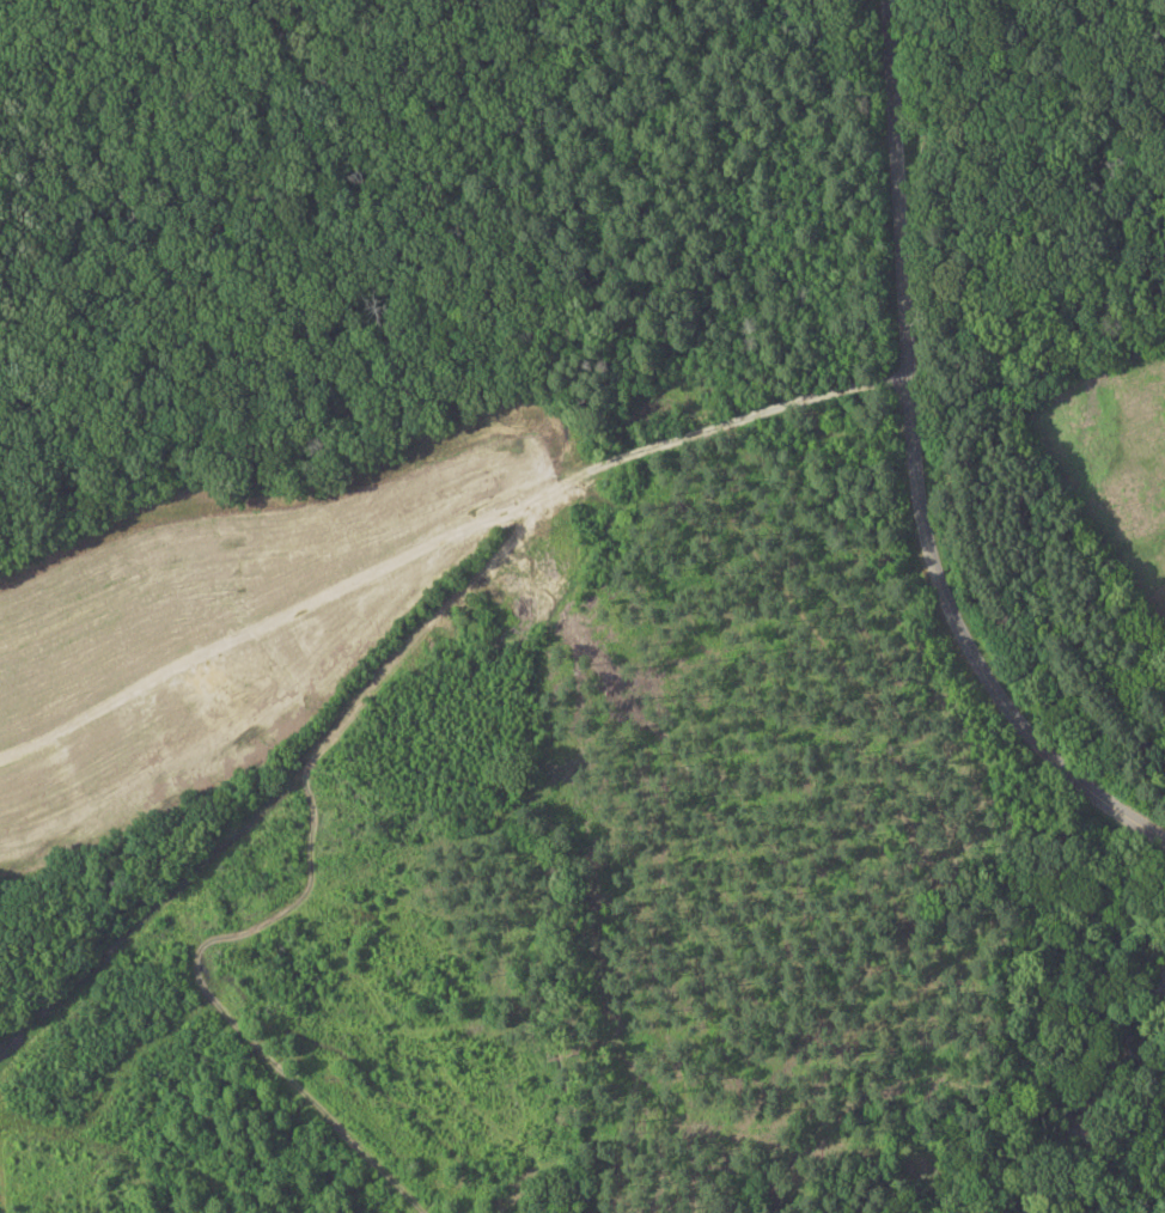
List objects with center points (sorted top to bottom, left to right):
road: (919, 465)

